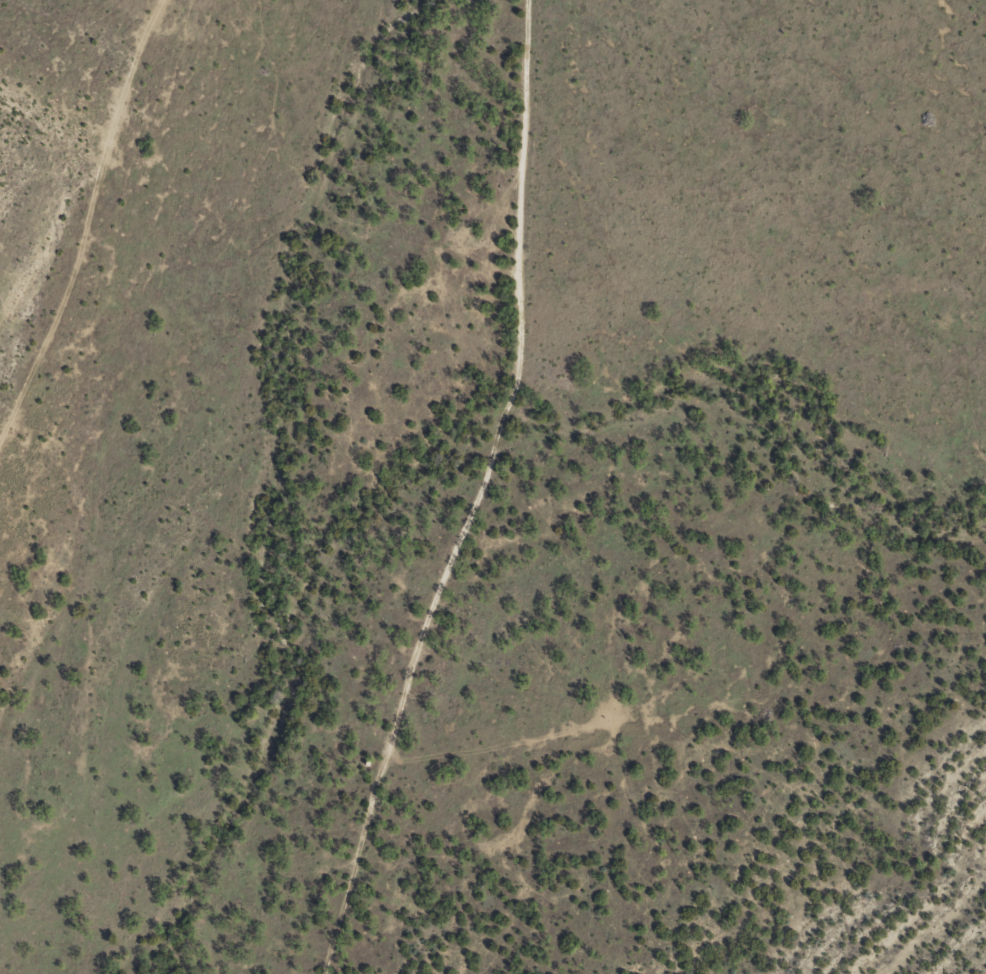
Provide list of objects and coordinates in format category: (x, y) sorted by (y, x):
road: (475, 494)

